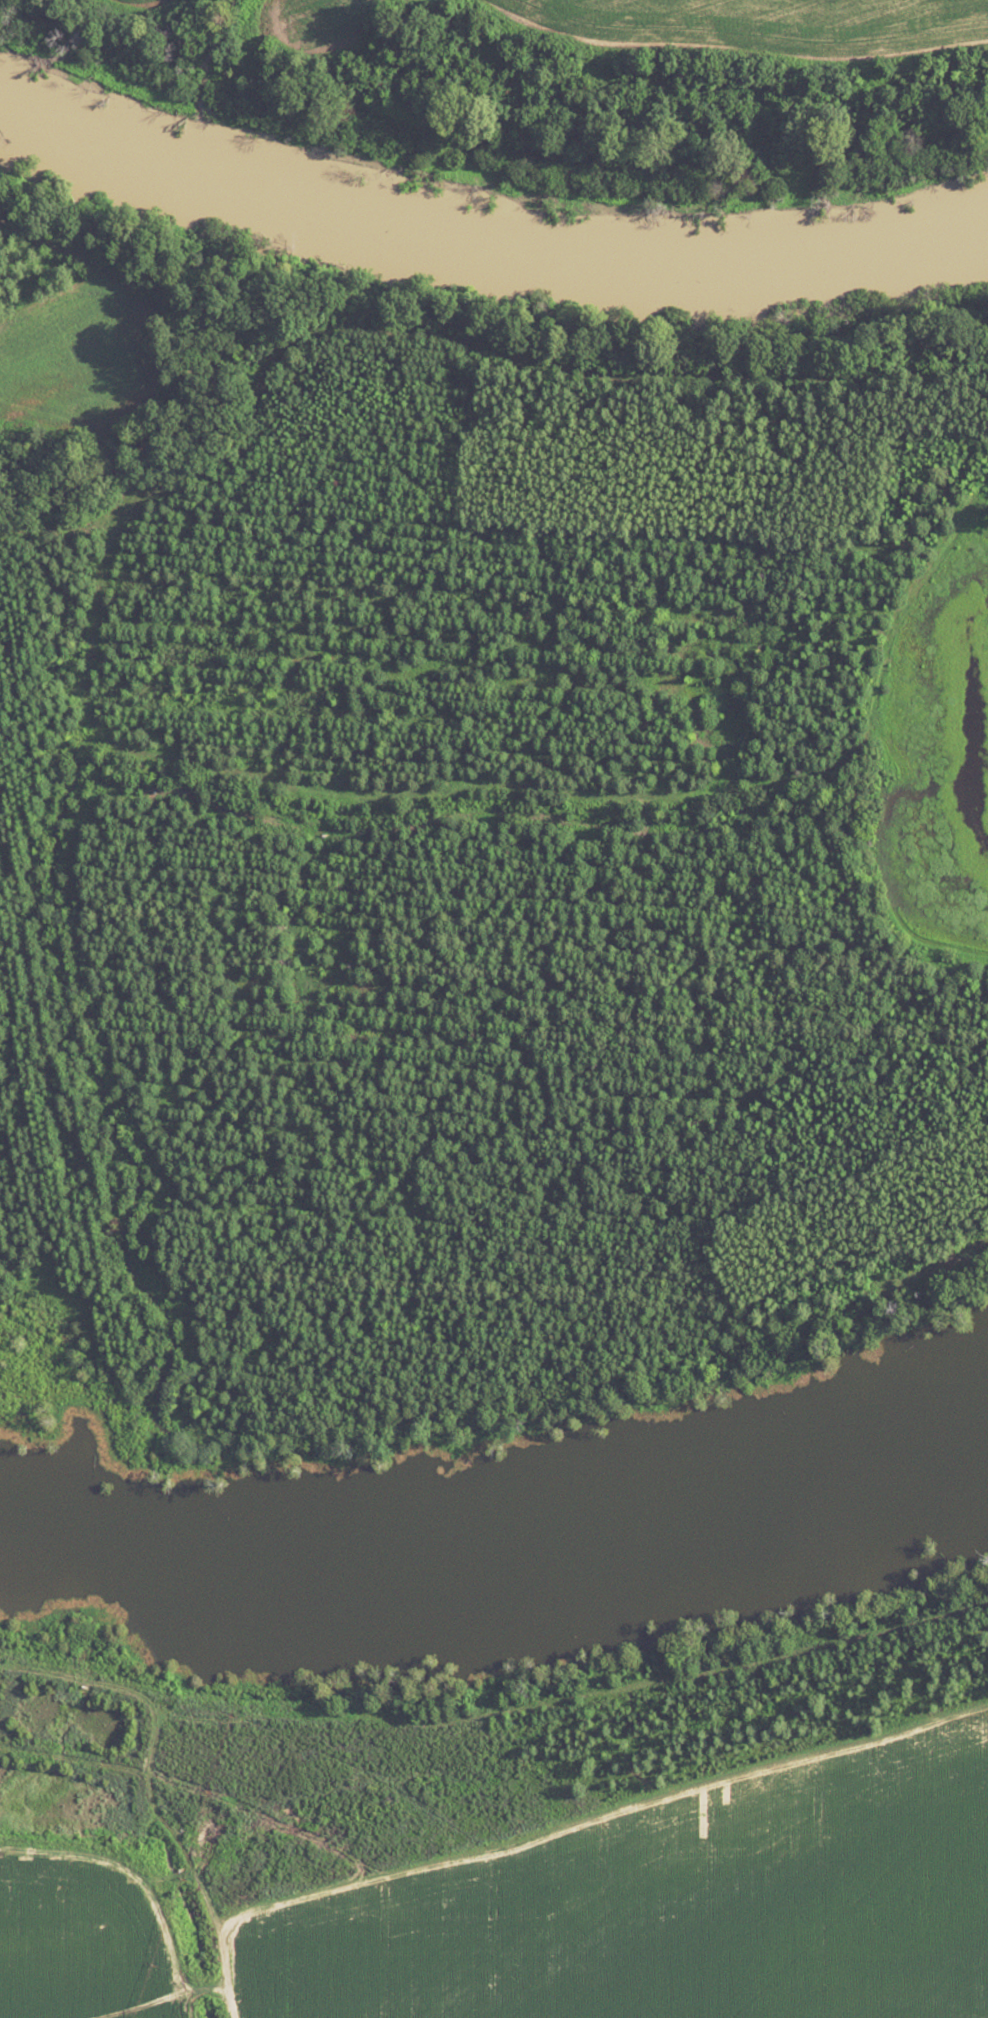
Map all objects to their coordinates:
river: (485, 242)
road: (349, 322)
road: (143, 1878)
road: (180, 2015)

